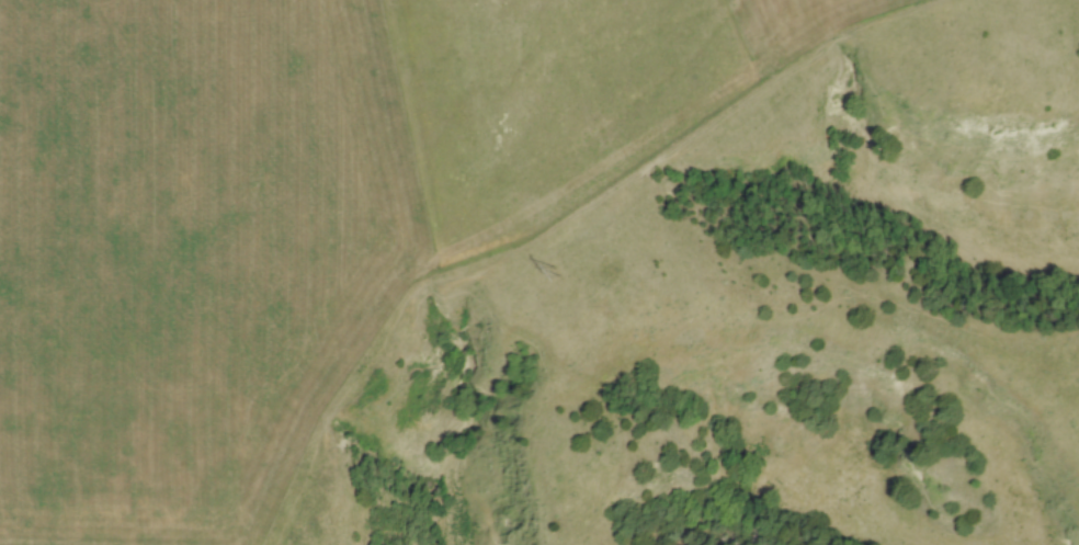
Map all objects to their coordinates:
power tower: (556, 274)

